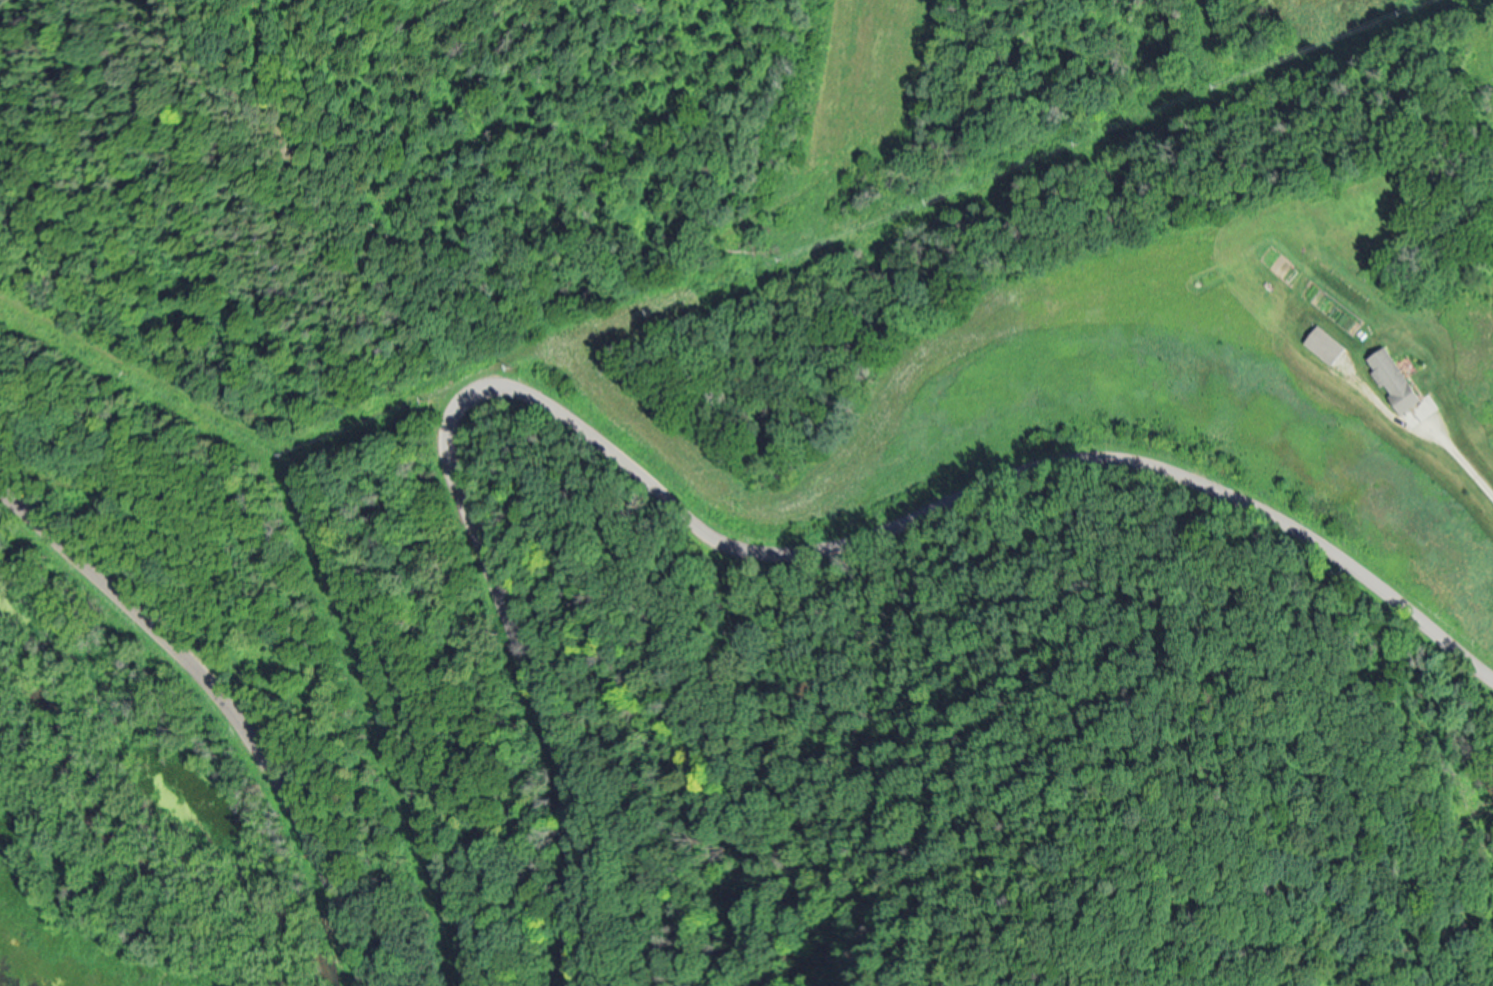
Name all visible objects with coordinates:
building: (1393, 378)
road: (1462, 462)
road: (690, 530)
road: (227, 706)

